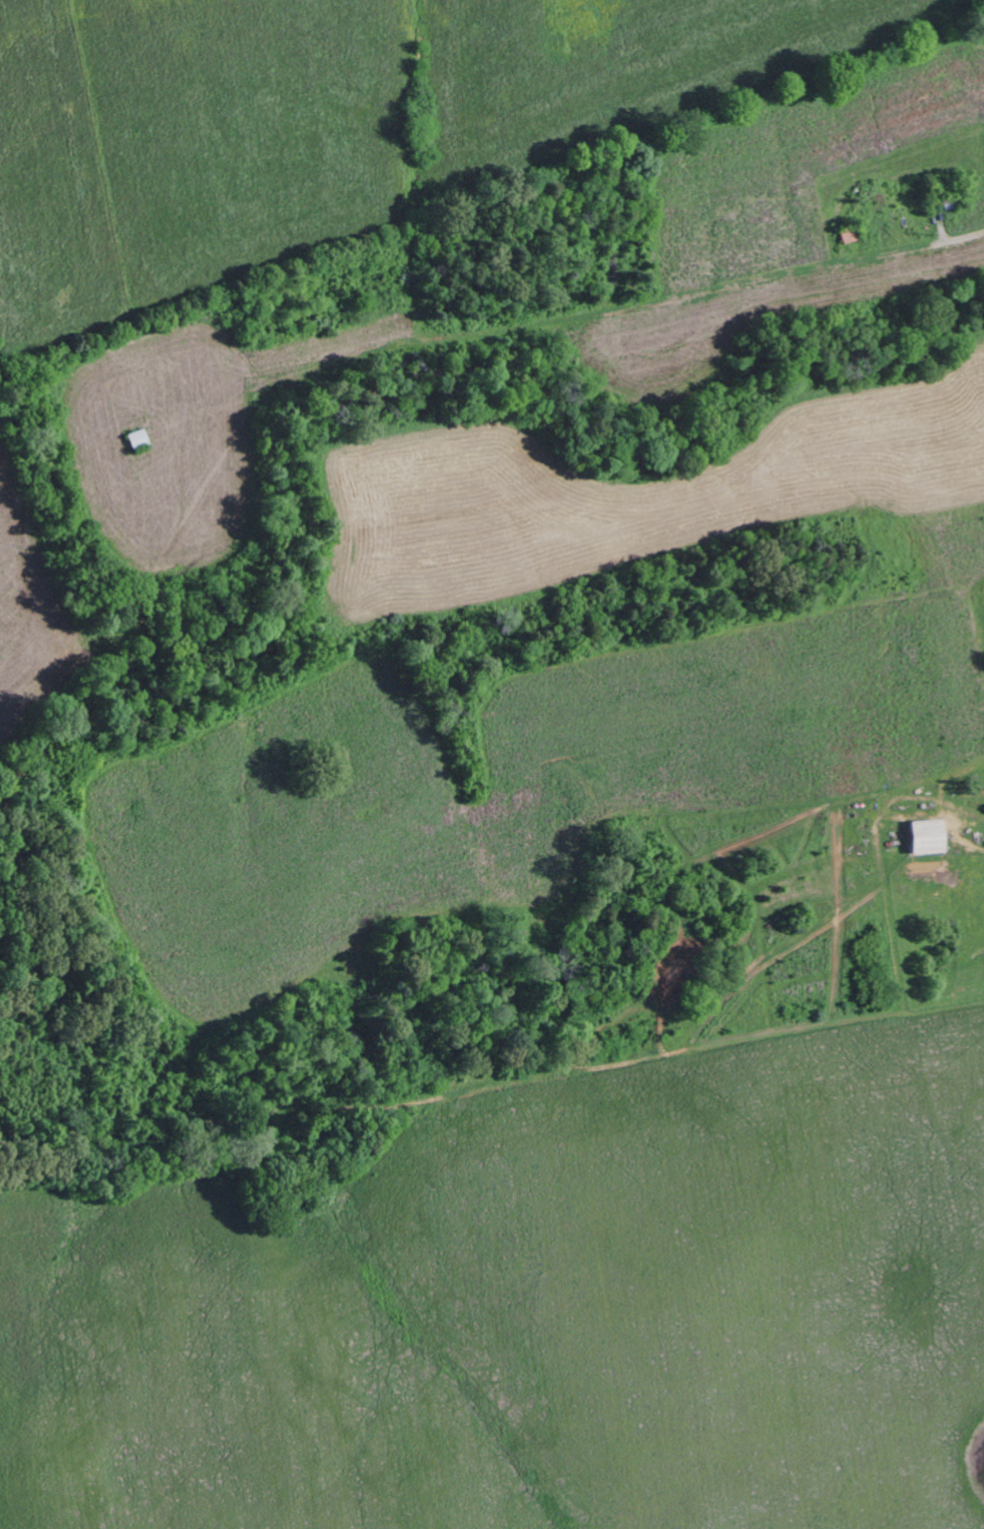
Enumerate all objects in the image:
building: (922, 837)

